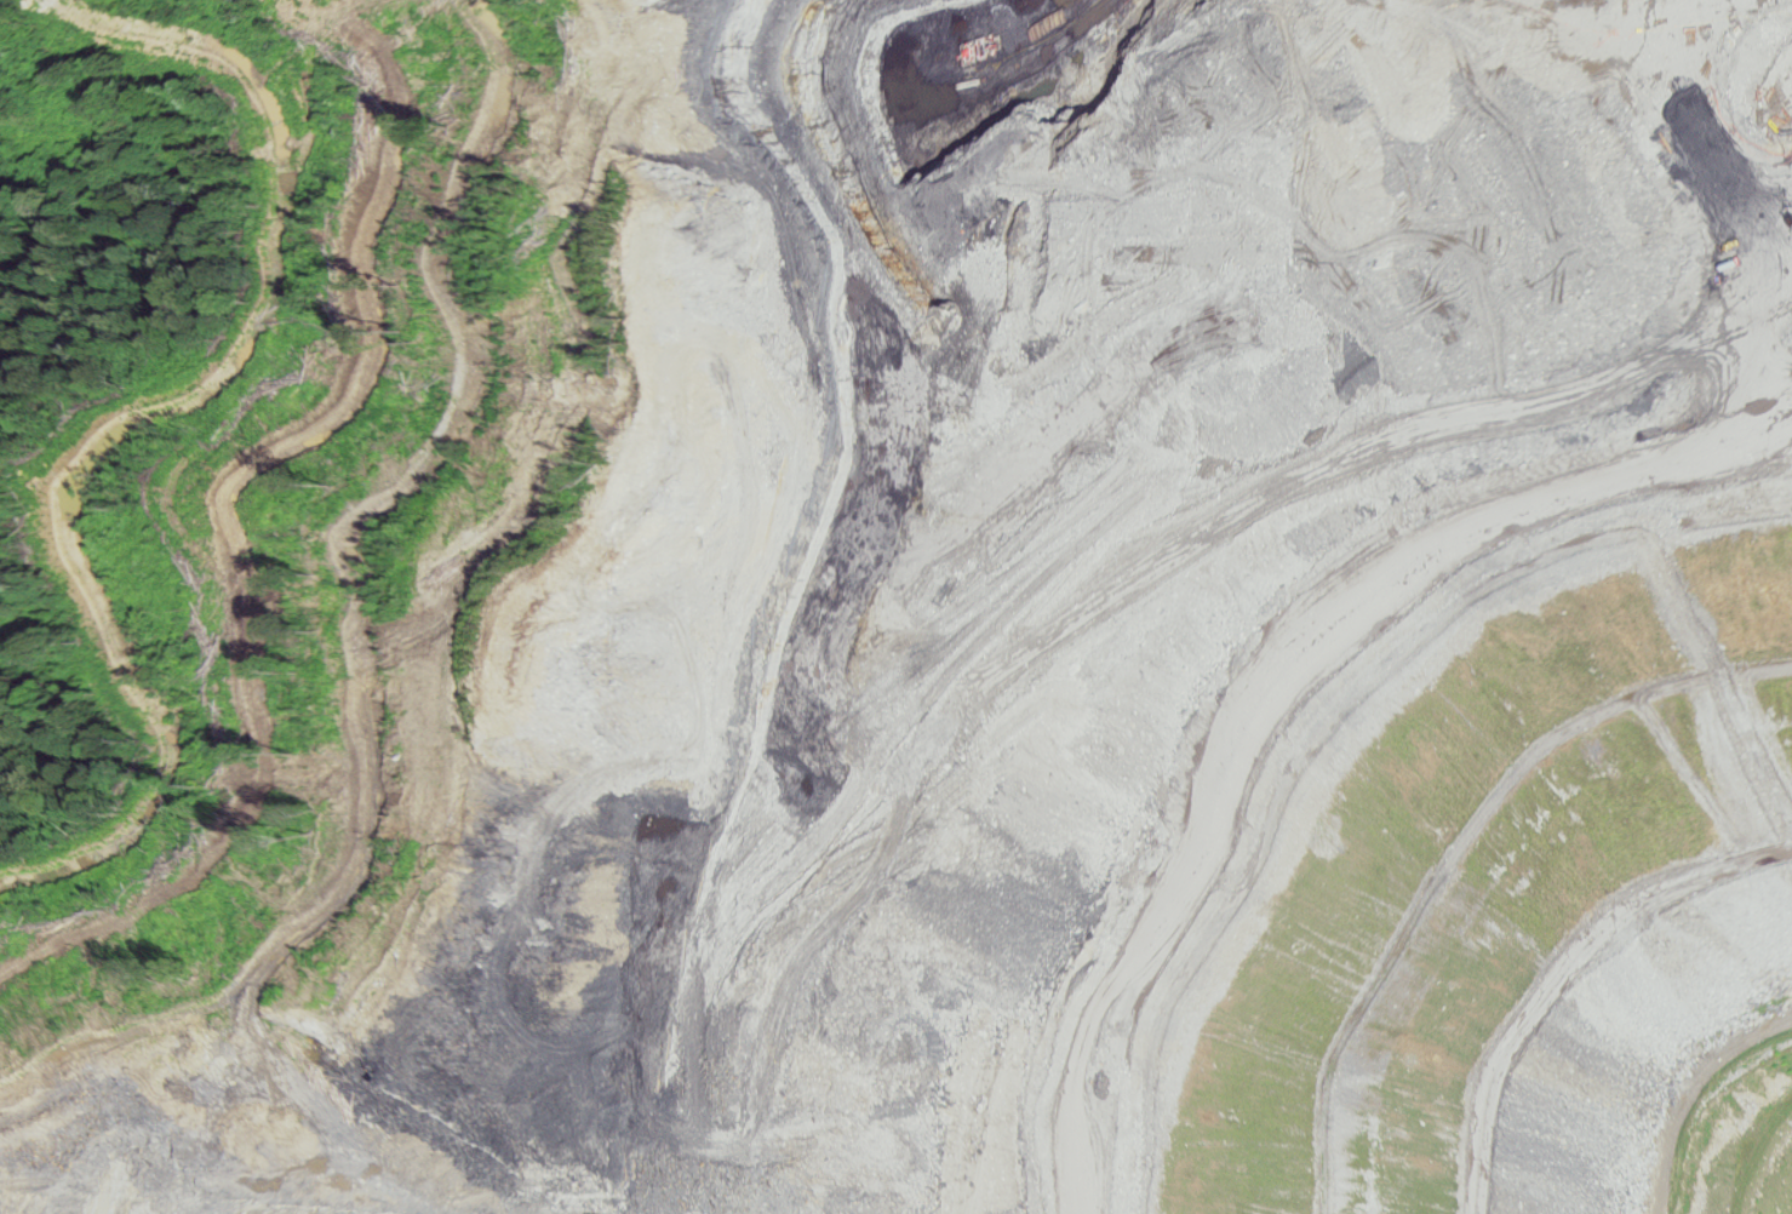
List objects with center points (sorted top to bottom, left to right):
quarry: (945, 623)

